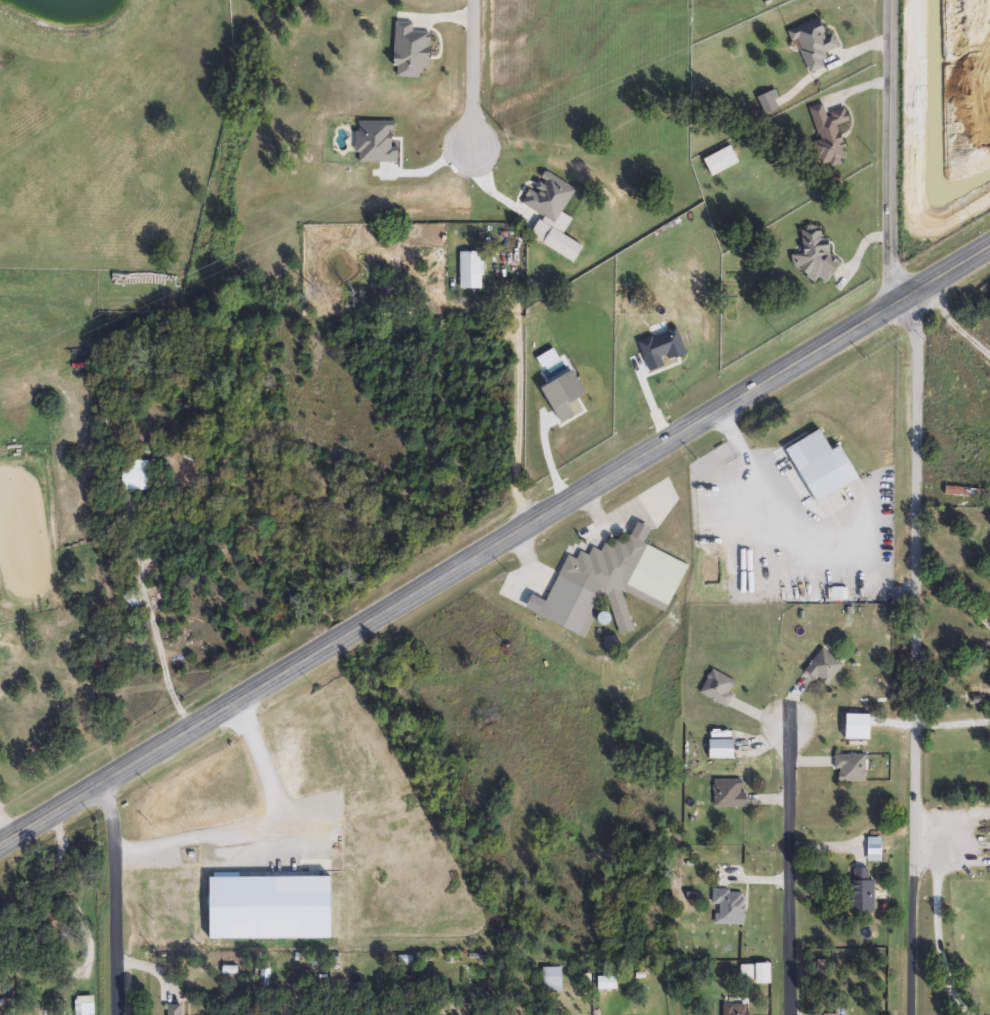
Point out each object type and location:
building: (813, 44)
road: (470, 68)
building: (769, 102)
power tower: (507, 133)
building: (828, 135)
road: (898, 153)
building: (813, 256)
building: (471, 271)
power tower: (175, 283)
road: (956, 320)
road: (519, 425)
road: (756, 472)
building: (135, 479)
building: (966, 493)
road: (495, 547)
building: (610, 583)
road: (915, 653)
building: (823, 668)
building: (718, 688)
road: (953, 724)
building: (721, 751)
building: (850, 769)
building: (729, 794)
road: (256, 831)
road: (4, 835)
road: (787, 871)
building: (860, 891)
road: (112, 898)
building: (729, 908)
road: (933, 929)
building: (404, 960)
building: (552, 981)
building: (84, 1006)
building: (174, 1010)
building: (734, 1010)

